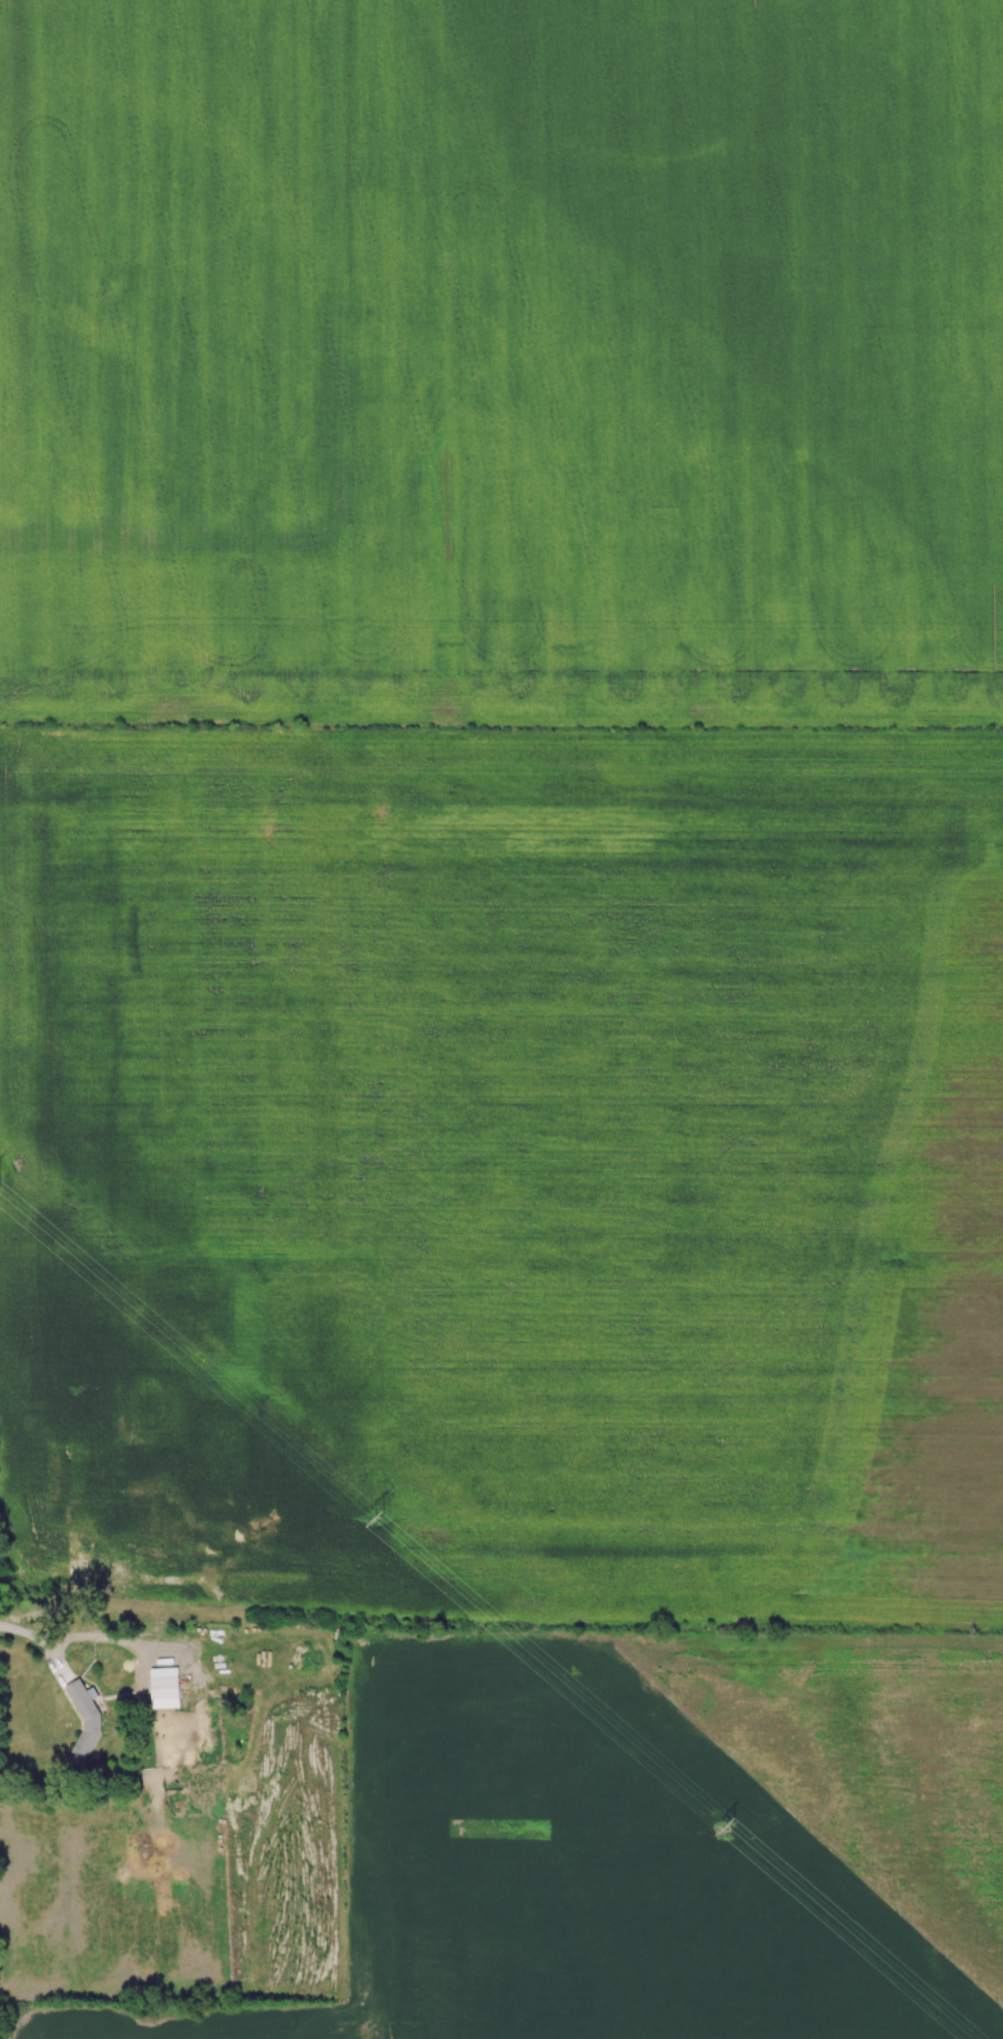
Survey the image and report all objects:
power tower: (379, 1521)
road: (104, 1634)
road: (36, 1636)
power tower: (734, 1824)

